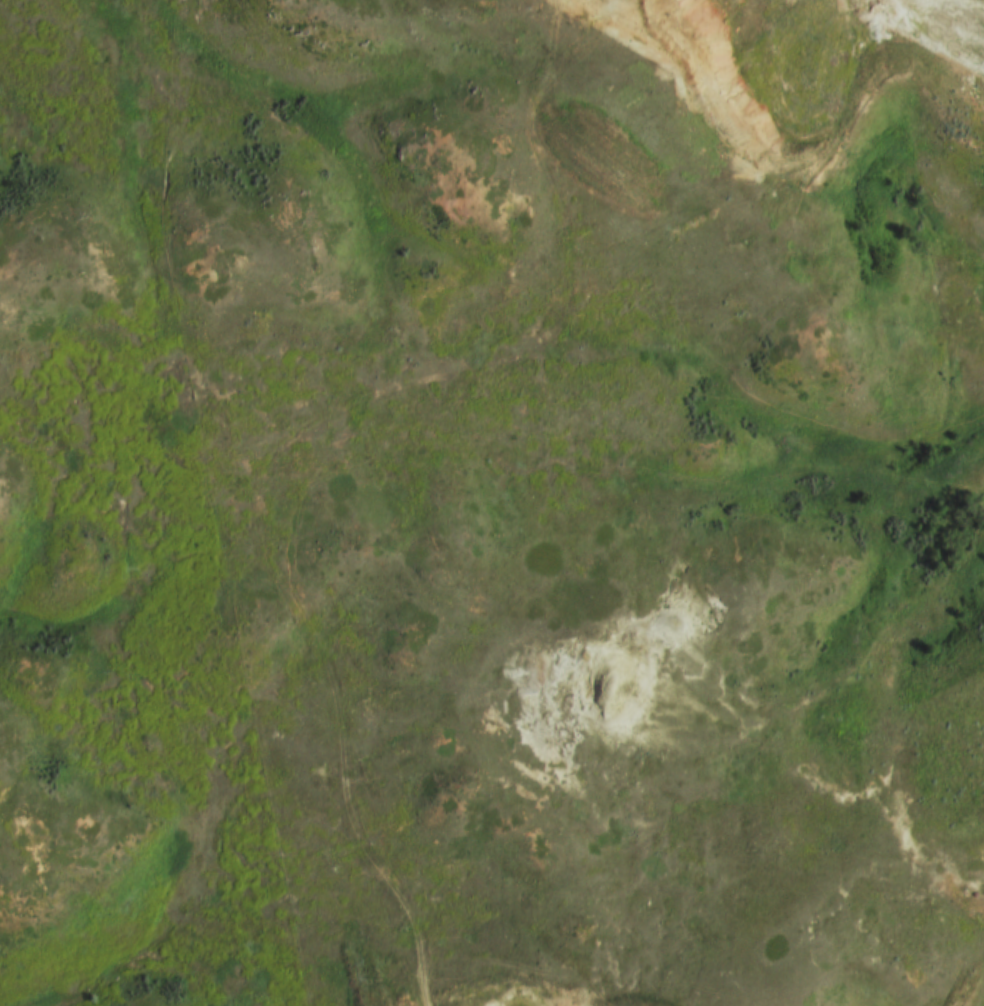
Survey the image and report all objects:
road: (916, 841)

